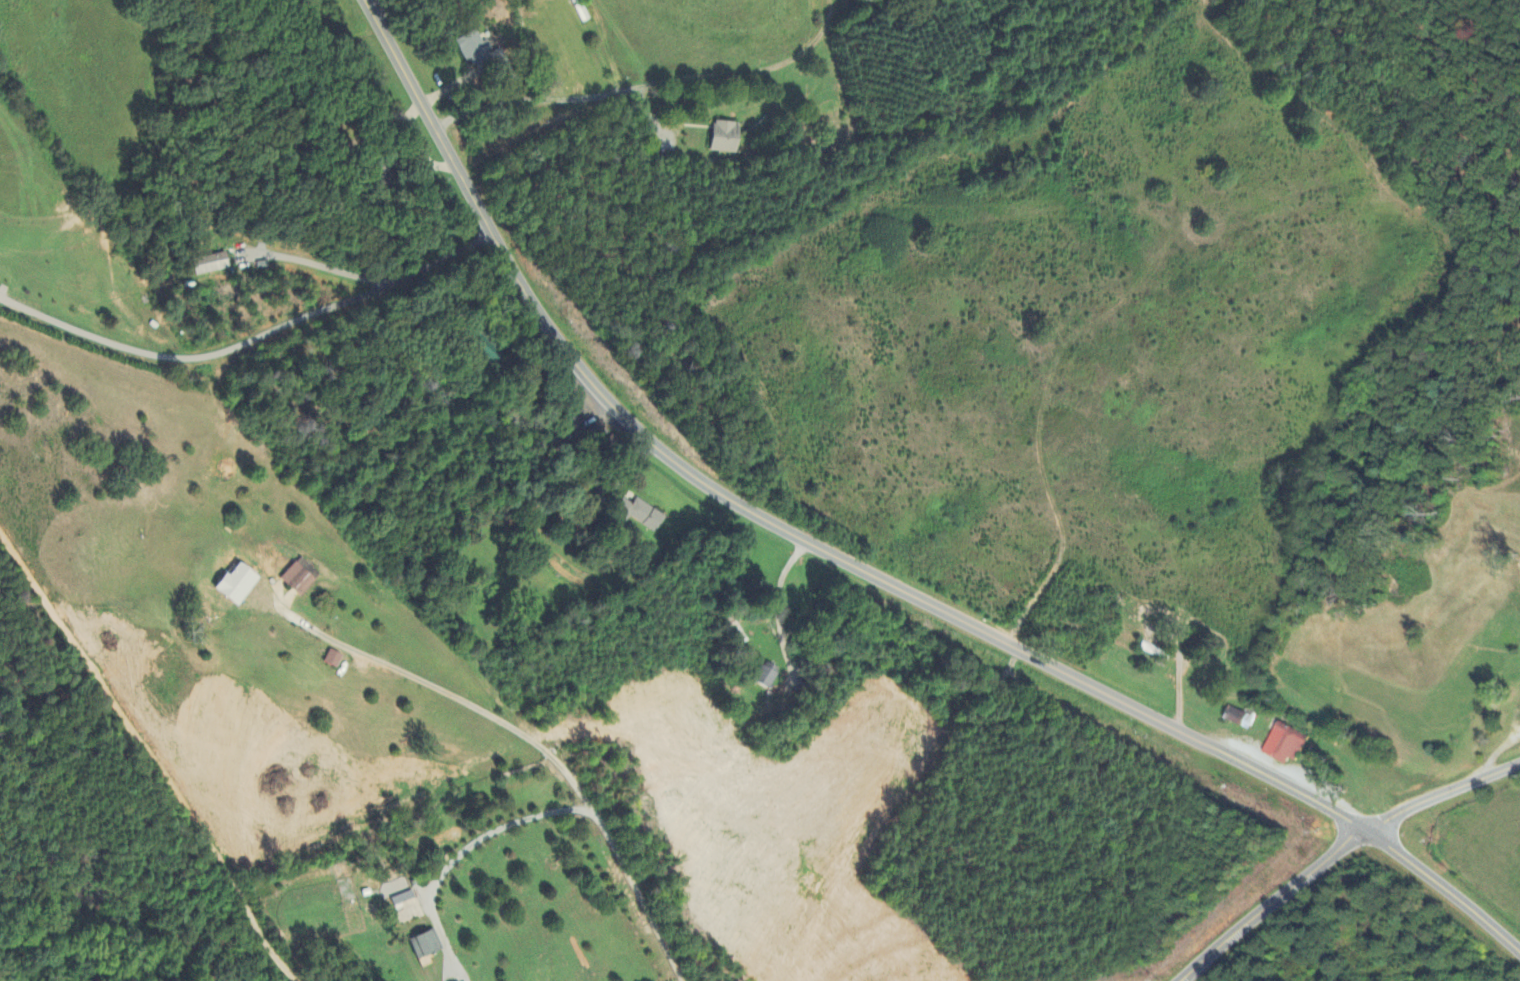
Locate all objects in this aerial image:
building: (470, 47)
road: (643, 86)
building: (723, 138)
building: (209, 264)
road: (315, 266)
road: (251, 340)
building: (638, 515)
road: (855, 570)
building: (295, 580)
building: (234, 585)
road: (780, 607)
road: (353, 650)
building: (330, 660)
building: (765, 676)
building: (1237, 718)
building: (1283, 744)
road: (112, 772)
road: (1440, 792)
road: (580, 794)
road: (494, 832)
building: (397, 893)
road: (1268, 903)
building: (407, 912)
building: (423, 945)

